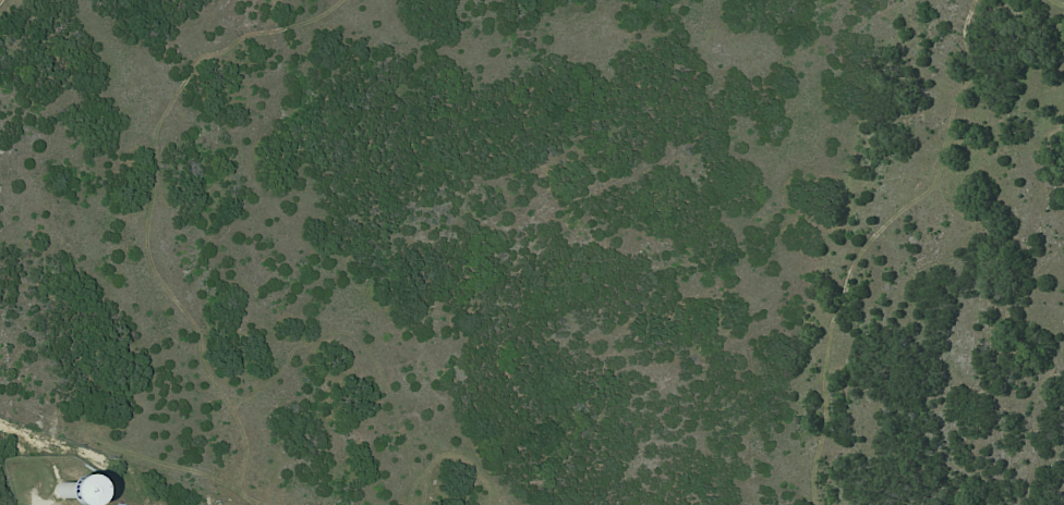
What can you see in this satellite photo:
building: (60, 490)

